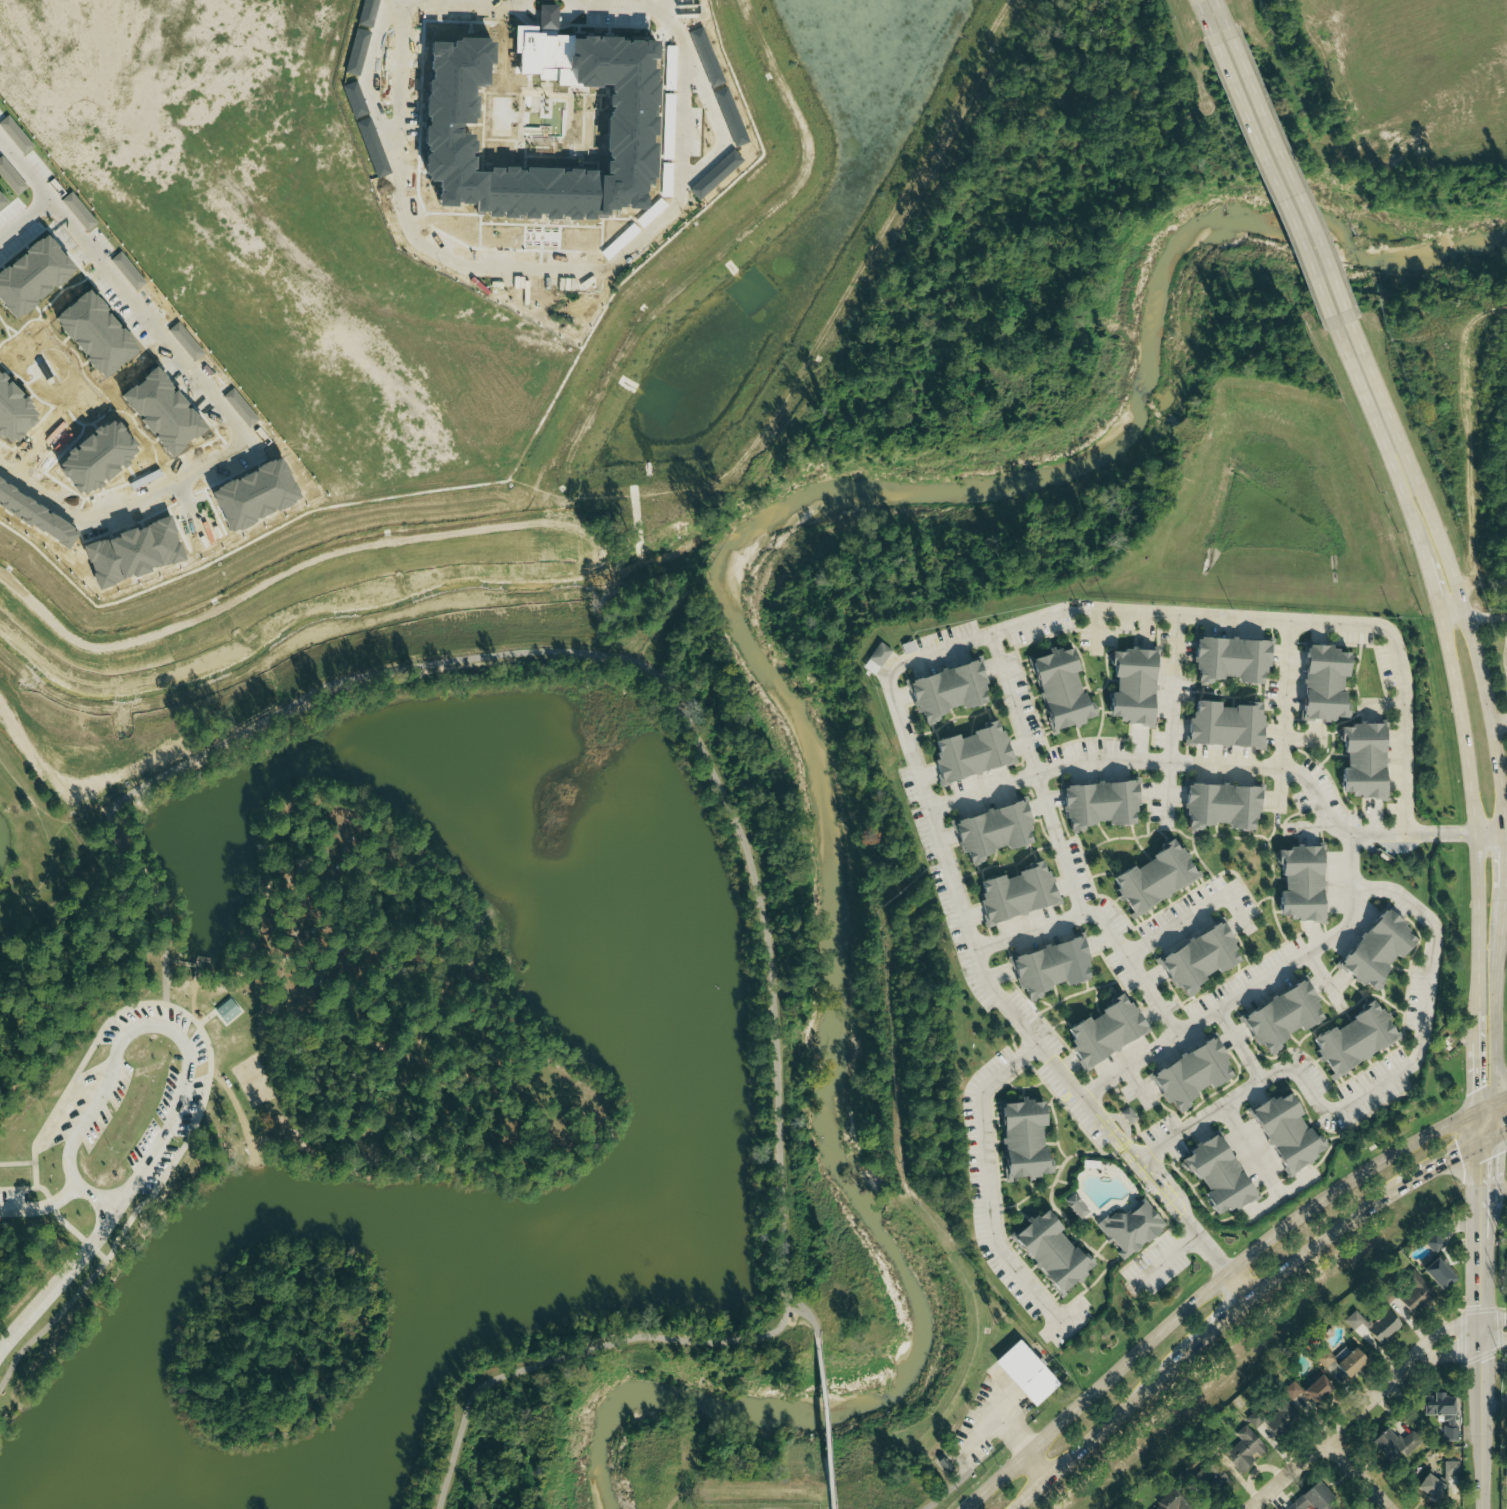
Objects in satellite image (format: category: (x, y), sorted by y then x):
road: (489, 0)
road: (618, 3)
road: (1210, 15)
road: (1213, 15)
building: (459, 75)
road: (1304, 127)
road: (1281, 178)
road: (45, 192)
road: (527, 266)
road: (236, 424)
road: (1406, 467)
road: (623, 504)
road: (1480, 614)
building: (909, 647)
parking lot: (1504, 650)
building: (877, 658)
road: (918, 658)
building: (1225, 661)
building: (1319, 683)
building: (1124, 685)
building: (1053, 687)
road: (1176, 689)
building: (942, 692)
road: (1287, 696)
river: (775, 706)
road: (1498, 719)
road: (1462, 722)
building: (1221, 725)
building: (964, 750)
building: (1356, 763)
road: (1214, 765)
road: (51, 778)
building: (1095, 803)
building: (1216, 805)
road: (729, 819)
road: (1503, 826)
building: (988, 828)
road: (1489, 829)
road: (54, 842)
road: (1062, 849)
road: (1499, 862)
building: (1147, 876)
building: (1295, 880)
building: (1010, 891)
road: (1188, 920)
road: (1028, 930)
road: (1479, 935)
road: (1503, 936)
building: (1372, 949)
building: (1194, 957)
building: (1046, 967)
road: (1254, 987)
building: (227, 1011)
building: (1276, 1016)
parking lot: (145, 1023)
building: (1098, 1029)
road: (200, 1031)
building: (1349, 1038)
road: (1240, 1046)
parking lot: (200, 1055)
building: (1187, 1072)
road: (1480, 1077)
traffic signals: (1480, 1088)
road: (1367, 1090)
road: (100, 1093)
road: (1493, 1107)
parking lot: (109, 1108)
parking lot: (72, 1109)
park: (457, 1109)
parking lot: (155, 1125)
road: (182, 1125)
road: (1480, 1129)
building: (1280, 1132)
building: (1017, 1137)
road: (1493, 1138)
road: (1248, 1141)
parking lot: (178, 1155)
traffic signals: (1459, 1155)
traffic signals: (1480, 1161)
road: (1437, 1165)
road: (29, 1166)
building: (1211, 1177)
road: (987, 1181)
road: (1480, 1181)
road: (1493, 1181)
parking lot: (12, 1200)
road: (99, 1201)
building: (1073, 1205)
road: (41, 1209)
road: (61, 1211)
building: (1127, 1226)
road: (1318, 1240)
building: (1432, 1244)
building: (1044, 1249)
road: (1212, 1255)
road: (1170, 1256)
building: (1505, 1273)
building: (1436, 1274)
road: (1479, 1279)
road: (59, 1282)
road: (1236, 1285)
road: (1209, 1290)
building: (1415, 1295)
road: (1219, 1319)
road: (47, 1323)
building: (1373, 1325)
road: (797, 1327)
road: (809, 1327)
road: (1442, 1331)
road: (1448, 1349)
building: (1323, 1358)
building: (1347, 1363)
building: (1019, 1372)
road: (1479, 1372)
building: (1306, 1390)
building: (1440, 1413)
building: (1280, 1419)
parking lot: (984, 1425)
road: (1103, 1425)
road: (826, 1433)
road: (1322, 1442)
building: (1242, 1450)
road: (1027, 1454)
road: (1481, 1456)
building: (1505, 1467)
building: (1449, 1468)
road: (1357, 1474)
building: (1222, 1483)
road: (930, 1488)
building: (1428, 1488)
building: (1312, 1499)
building: (1168, 1502)

